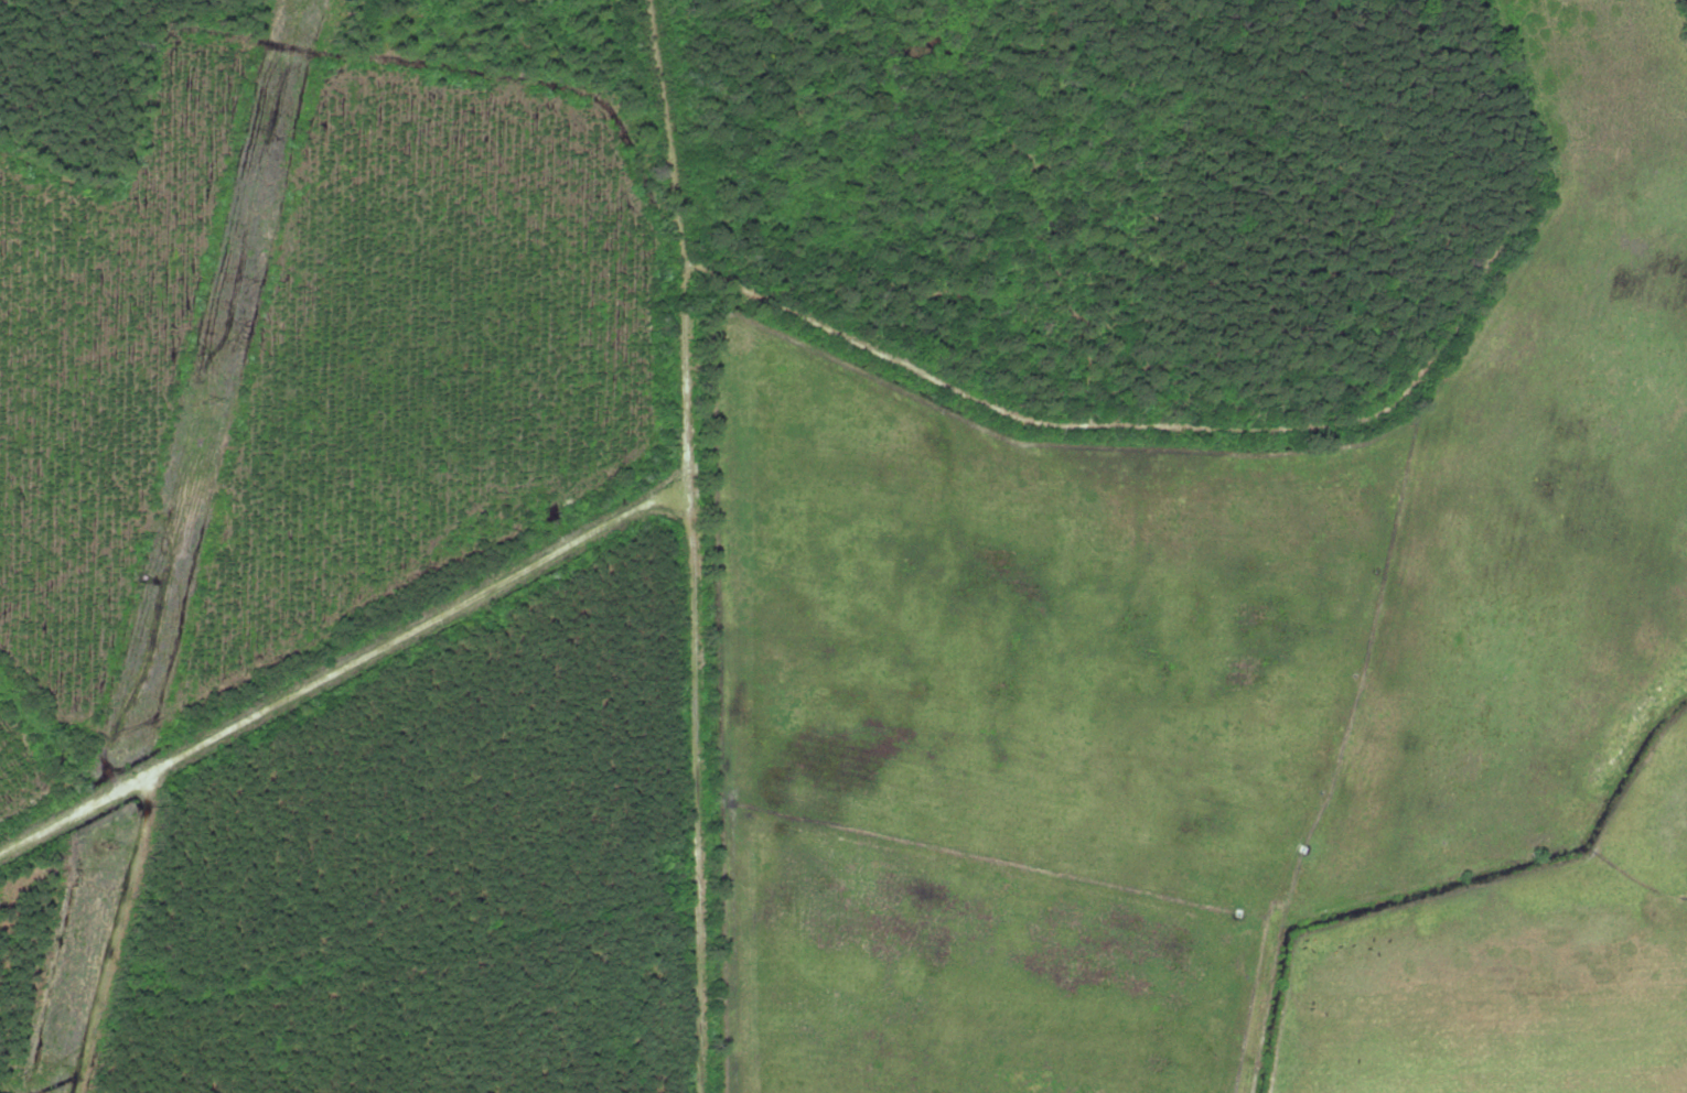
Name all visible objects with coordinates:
power tower: (206, 400)
road: (598, 527)
power tower: (107, 846)

